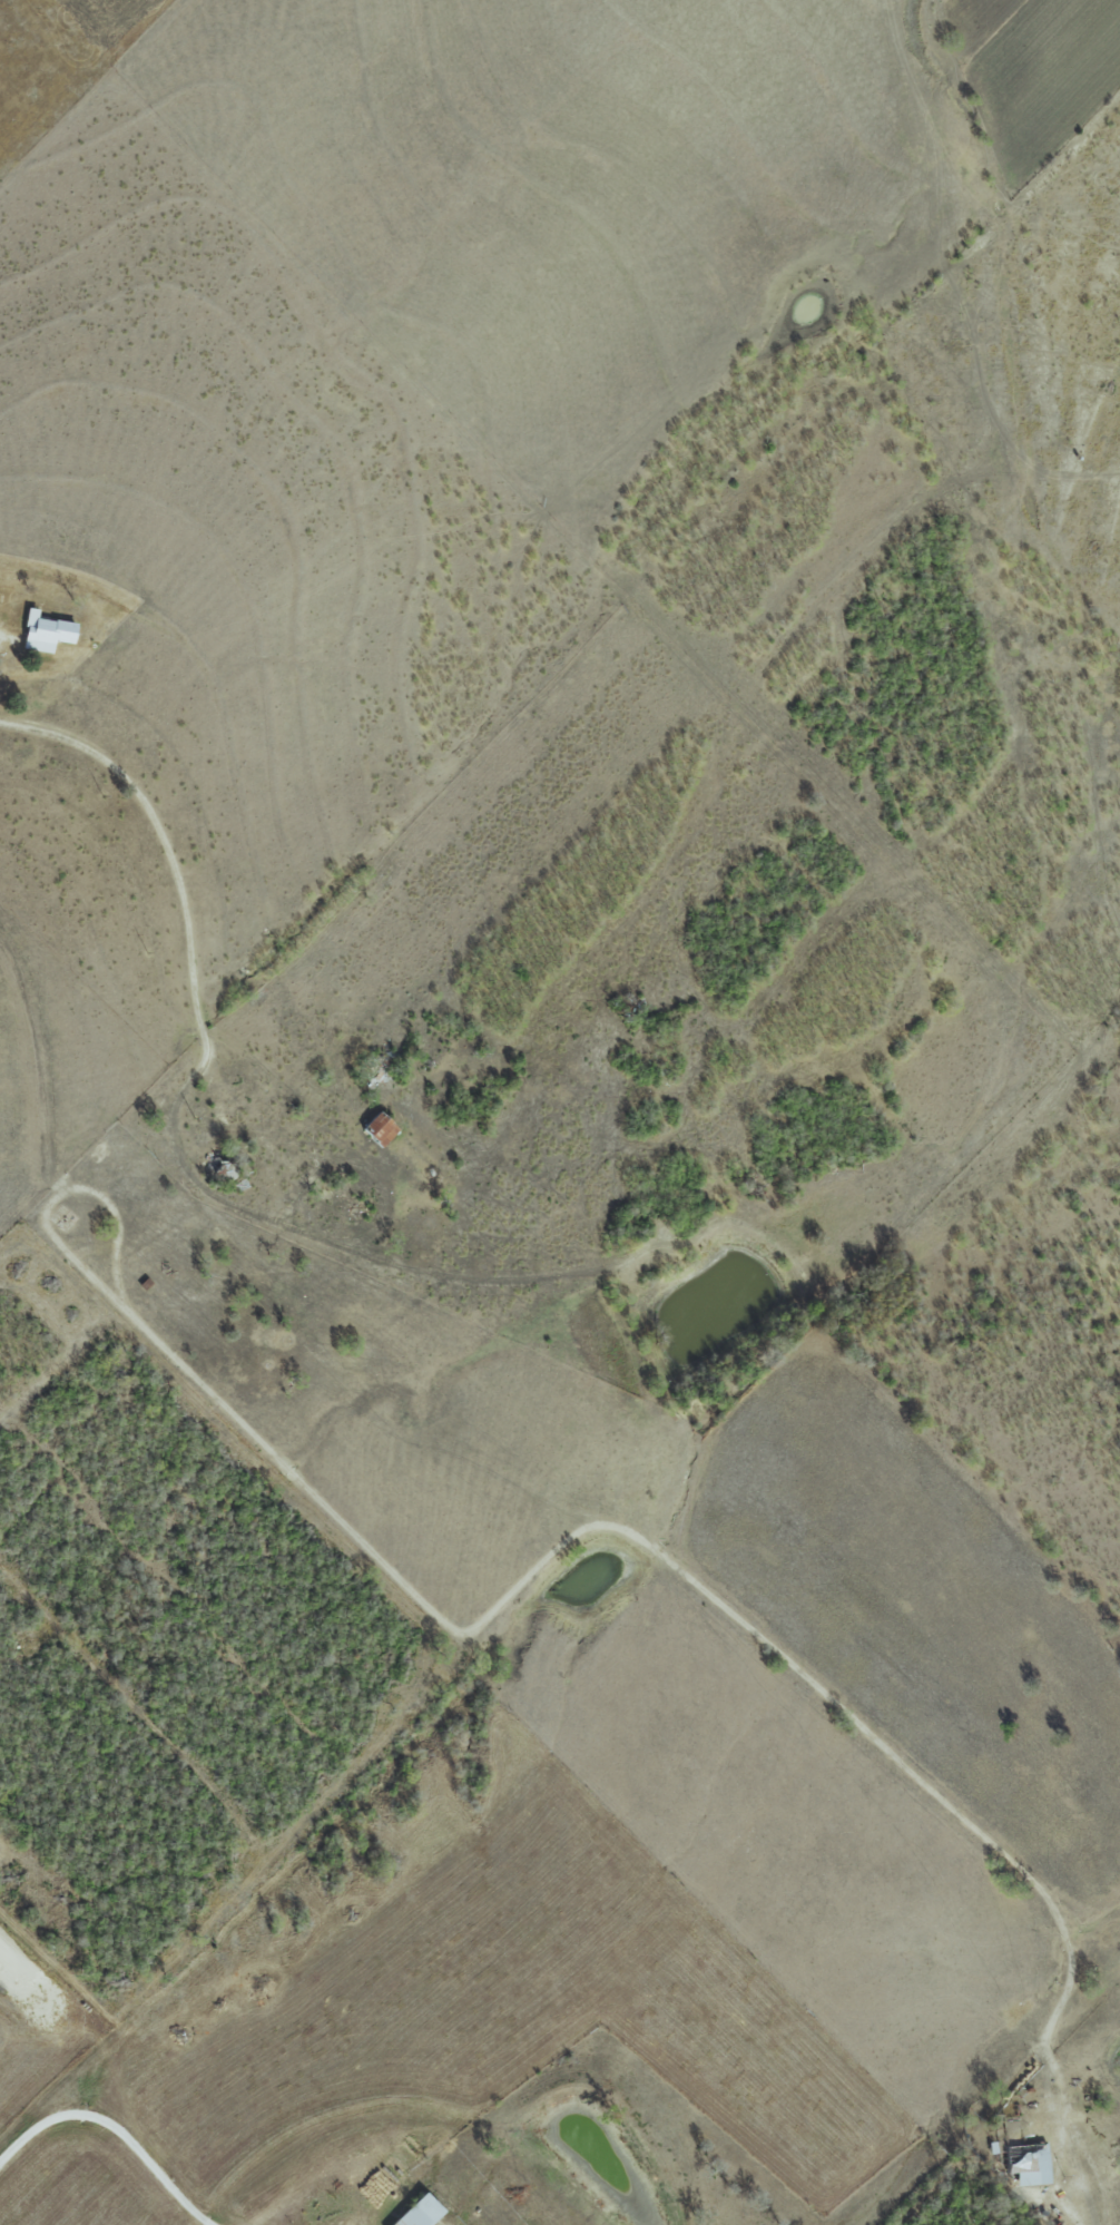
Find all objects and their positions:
building: (45, 633)
building: (379, 1128)
road: (61, 1189)
road: (714, 1602)
road: (110, 2137)
building: (1029, 2165)
building: (419, 2212)

